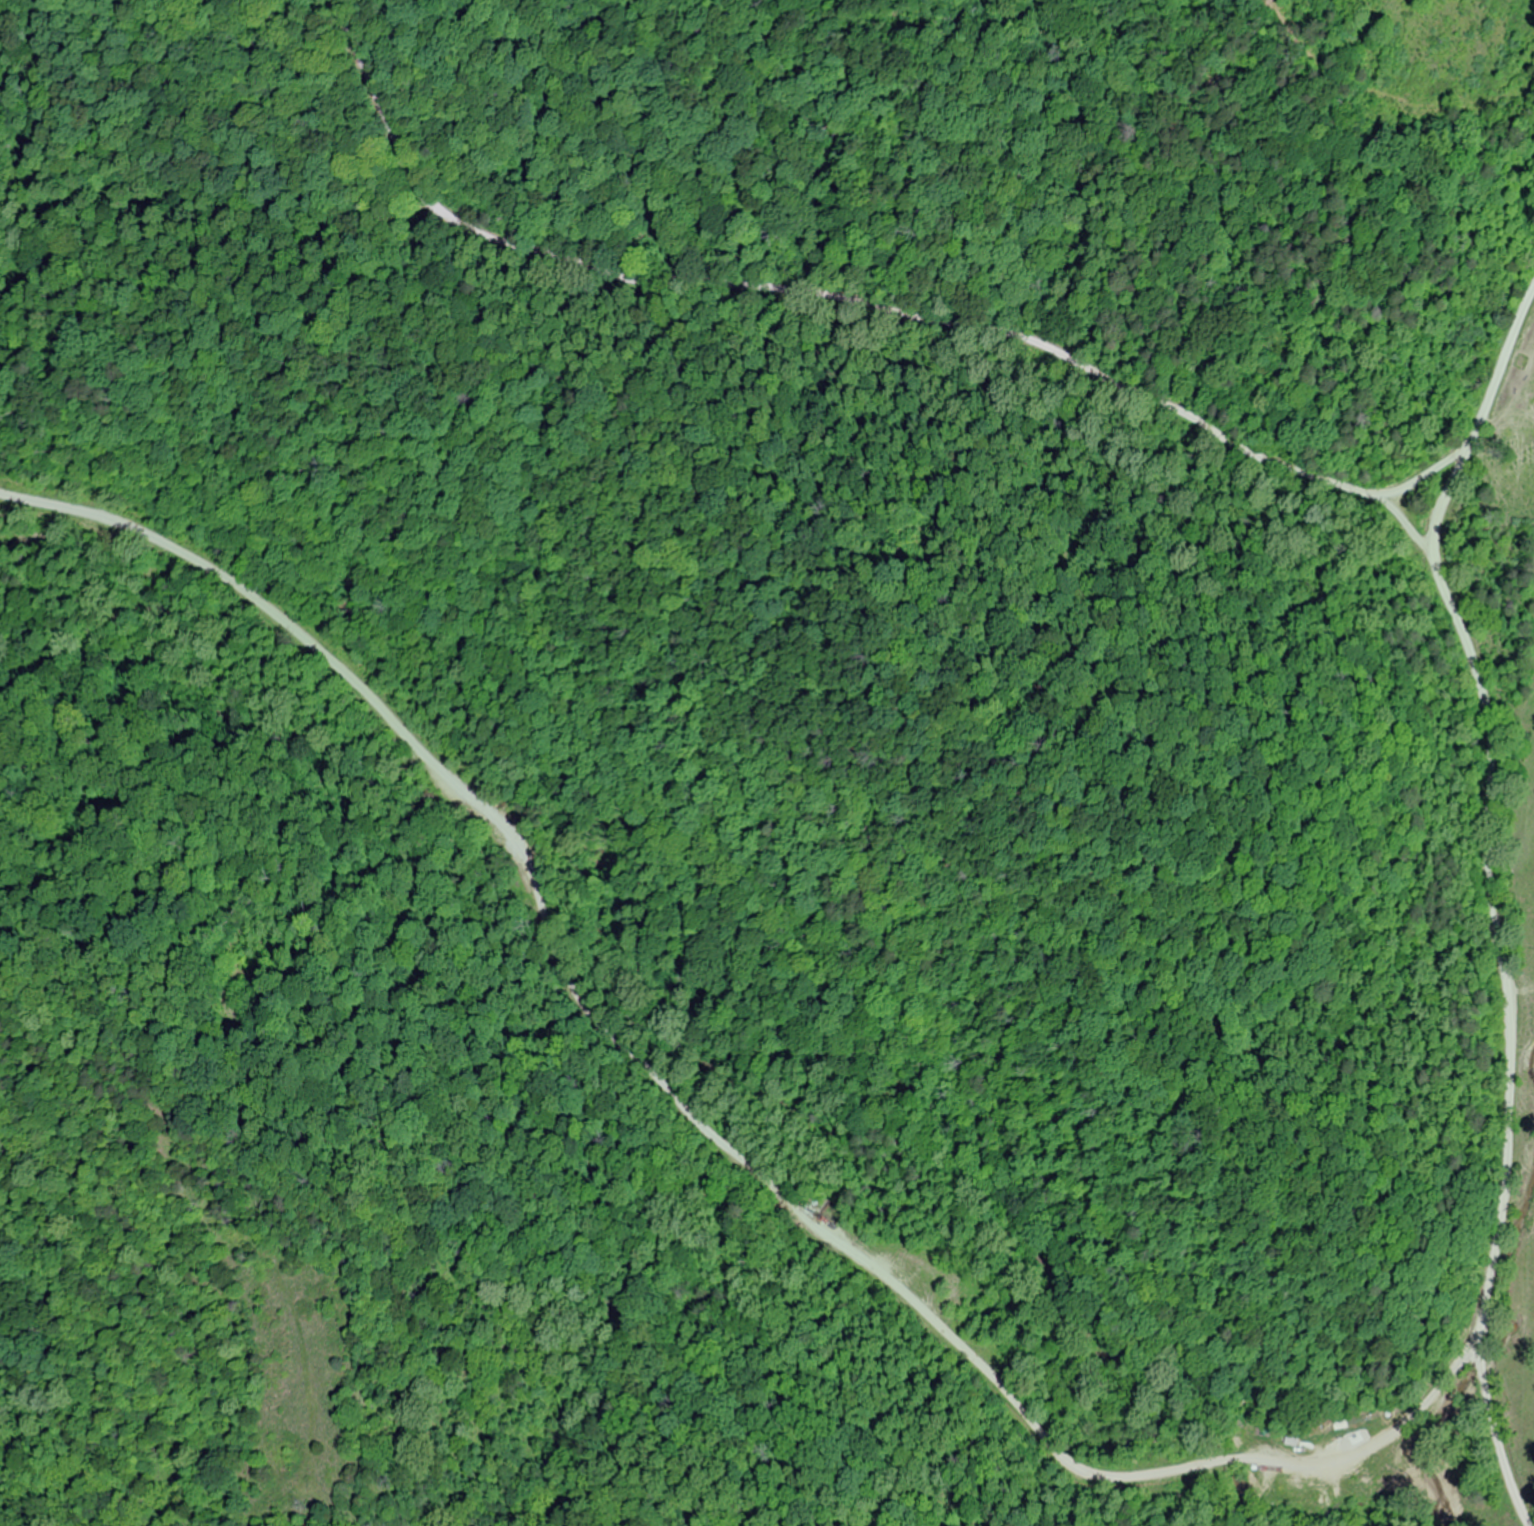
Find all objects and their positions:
road: (859, 285)
road: (1487, 803)
road: (1330, 1406)
road: (1497, 1435)

